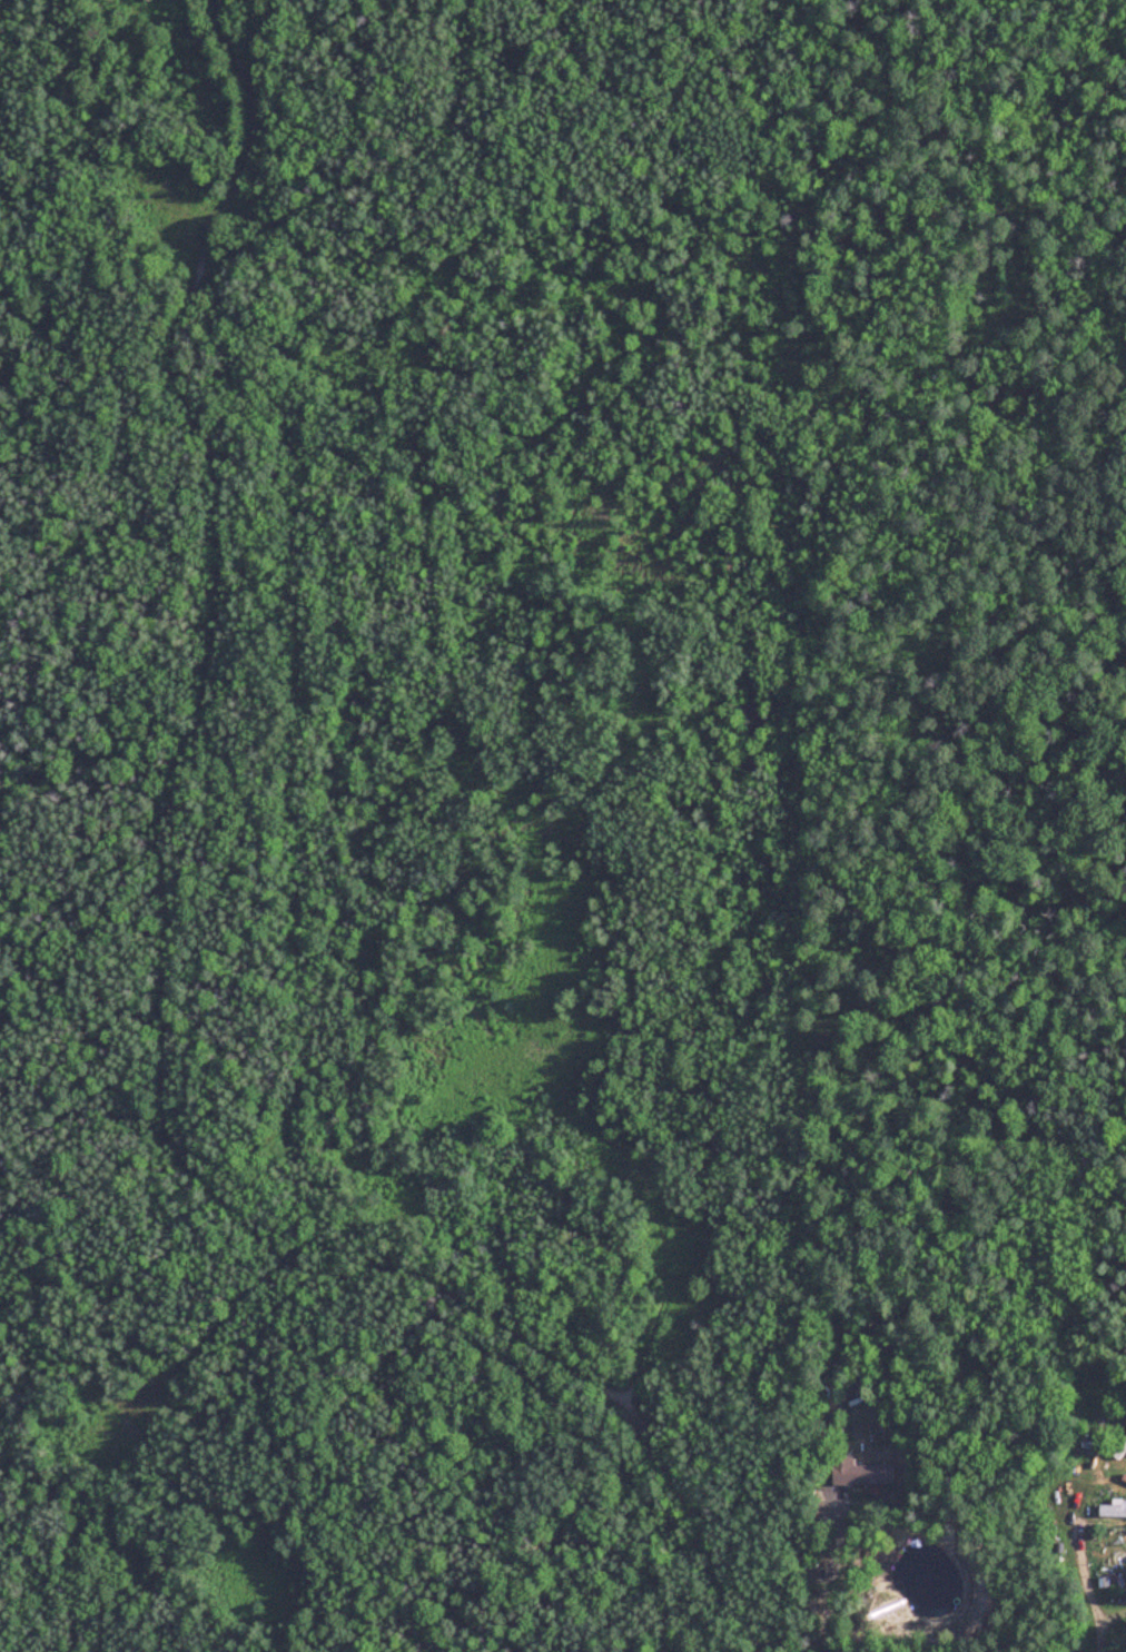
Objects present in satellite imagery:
building: (858, 1471)
building: (1113, 1512)
road: (833, 1574)
building: (1112, 1582)
road: (1107, 1629)

